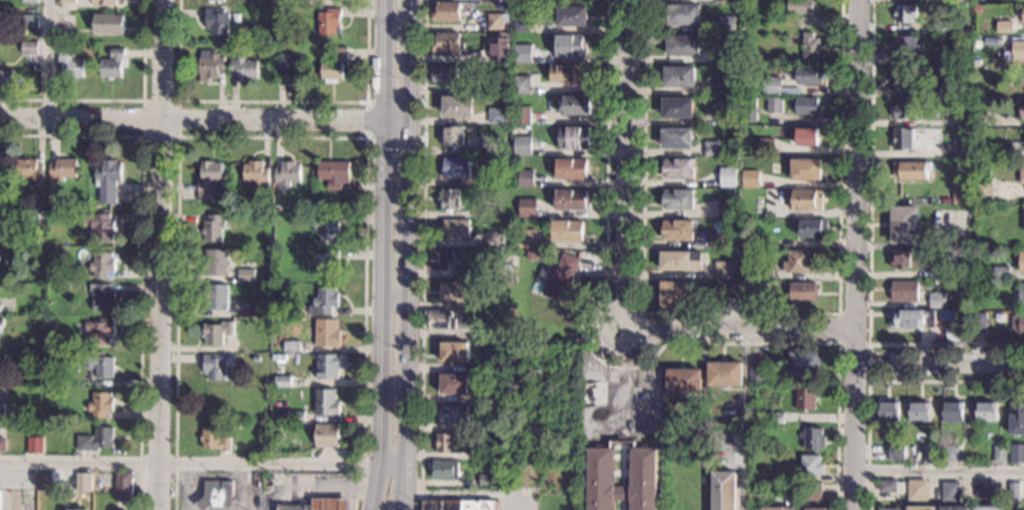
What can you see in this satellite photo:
building: (214, 0)
building: (504, 0)
building: (525, 0)
building: (978, 0)
building: (29, 1)
building: (66, 1)
building: (722, 1)
building: (958, 1)
building: (104, 2)
building: (800, 6)
building: (976, 8)
building: (279, 9)
building: (446, 12)
building: (778, 12)
building: (904, 13)
building: (1022, 14)
building: (683, 15)
building: (571, 16)
building: (29, 20)
building: (65, 21)
building: (329, 21)
building: (495, 21)
building: (216, 22)
building: (108, 23)
building: (521, 24)
building: (725, 24)
building: (941, 26)
building: (1003, 27)
building: (1005, 40)
building: (445, 42)
building: (221, 44)
building: (570, 45)
building: (907, 45)
building: (682, 46)
building: (809, 46)
building: (28, 47)
building: (89, 47)
building: (499, 48)
building: (1023, 50)
building: (522, 54)
building: (726, 55)
building: (473, 56)
road: (46, 57)
building: (940, 61)
building: (70, 64)
building: (113, 64)
building: (209, 65)
building: (333, 65)
building: (288, 66)
building: (243, 68)
building: (566, 73)
building: (444, 74)
building: (807, 75)
building: (678, 76)
building: (905, 77)
building: (6, 78)
building: (520, 85)
building: (771, 85)
building: (712, 86)
building: (933, 90)
building: (982, 93)
road: (122, 101)
road: (178, 101)
road: (272, 101)
building: (773, 105)
building: (456, 106)
building: (575, 106)
building: (806, 106)
building: (676, 108)
building: (905, 108)
building: (1022, 108)
building: (749, 113)
building: (521, 115)
building: (496, 116)
building: (727, 116)
road: (366, 118)
building: (983, 119)
road: (204, 120)
building: (961, 121)
road: (271, 135)
building: (452, 136)
building: (804, 136)
building: (573, 137)
building: (676, 138)
building: (902, 139)
building: (503, 142)
building: (487, 145)
building: (522, 146)
building: (764, 146)
building: (711, 148)
building: (961, 149)
building: (1005, 151)
road: (623, 160)
building: (957, 165)
building: (454, 167)
building: (678, 168)
building: (570, 169)
building: (805, 169)
building: (30, 170)
building: (61, 170)
building: (911, 171)
building: (1021, 172)
building: (287, 173)
building: (334, 173)
building: (256, 174)
building: (727, 177)
building: (525, 178)
building: (207, 179)
building: (749, 179)
building: (107, 180)
building: (478, 180)
building: (982, 190)
building: (960, 195)
building: (448, 199)
building: (677, 199)
building: (571, 200)
building: (807, 200)
building: (51, 206)
building: (1, 207)
building: (526, 208)
building: (725, 208)
building: (479, 214)
building: (1023, 221)
building: (903, 224)
building: (99, 227)
building: (214, 227)
building: (325, 228)
building: (812, 228)
building: (454, 229)
building: (567, 230)
building: (676, 230)
building: (13, 238)
building: (526, 238)
building: (494, 239)
building: (716, 241)
building: (46, 242)
building: (762, 243)
building: (1020, 246)
road: (868, 249)
road: (140, 251)
building: (1, 252)
road: (421, 254)
road: (161, 255)
road: (382, 255)
road: (407, 255)
road: (856, 255)
building: (438, 258)
building: (905, 259)
building: (679, 260)
building: (794, 261)
building: (325, 262)
building: (1021, 262)
building: (214, 263)
building: (101, 264)
building: (723, 270)
building: (936, 271)
building: (459, 272)
building: (768, 273)
building: (1000, 273)
building: (245, 275)
building: (559, 278)
building: (965, 284)
building: (1, 286)
building: (726, 288)
building: (751, 289)
building: (457, 291)
building: (904, 291)
building: (803, 292)
building: (674, 294)
building: (1017, 294)
building: (215, 296)
building: (101, 297)
building: (323, 300)
building: (937, 300)
building: (273, 305)
building: (1021, 307)
building: (0, 308)
road: (613, 308)
building: (256, 309)
road: (739, 312)
building: (913, 318)
building: (439, 319)
building: (977, 320)
building: (965, 321)
building: (1, 322)
building: (49, 324)
building: (1017, 324)
road: (741, 328)
building: (98, 331)
building: (486, 331)
building: (215, 332)
building: (325, 332)
building: (954, 333)
road: (602, 341)
road: (840, 343)
building: (291, 346)
building: (452, 351)
building: (255, 358)
building: (0, 361)
building: (804, 363)
building: (99, 364)
building: (213, 366)
building: (327, 366)
road: (940, 366)
road: (616, 367)
building: (724, 373)
building: (758, 373)
building: (282, 381)
building: (683, 381)
road: (880, 381)
building: (38, 382)
building: (52, 382)
building: (453, 384)
road: (627, 385)
building: (591, 393)
building: (486, 394)
building: (261, 395)
building: (804, 398)
building: (214, 402)
building: (325, 403)
building: (100, 404)
building: (779, 404)
building: (1, 409)
building: (888, 411)
building: (919, 411)
building: (952, 411)
building: (985, 411)
building: (453, 415)
building: (295, 416)
building: (1016, 417)
building: (775, 418)
building: (487, 423)
building: (274, 427)
building: (326, 435)
building: (813, 438)
building: (96, 439)
building: (213, 439)
building: (724, 440)
building: (447, 443)
building: (2, 444)
building: (34, 445)
building: (486, 450)
building: (896, 452)
building: (950, 453)
building: (1016, 453)
building: (930, 454)
building: (999, 454)
road: (202, 463)
road: (620, 465)
building: (810, 465)
building: (442, 469)
road: (939, 470)
building: (785, 477)
building: (600, 478)
building: (642, 479)
building: (486, 480)
building: (82, 482)
building: (123, 485)
building: (890, 486)
road: (741, 489)
building: (984, 489)
building: (1013, 489)
building: (916, 490)
building: (723, 491)
building: (792, 491)
building: (812, 491)
building: (950, 491)
building: (216, 494)
road: (467, 494)
building: (329, 504)
building: (458, 505)
building: (292, 507)
building: (776, 508)
building: (921, 508)
building: (953, 508)
building: (988, 508)
building: (71, 509)
road: (401, 509)
building: (814, 509)
building: (889, 509)

